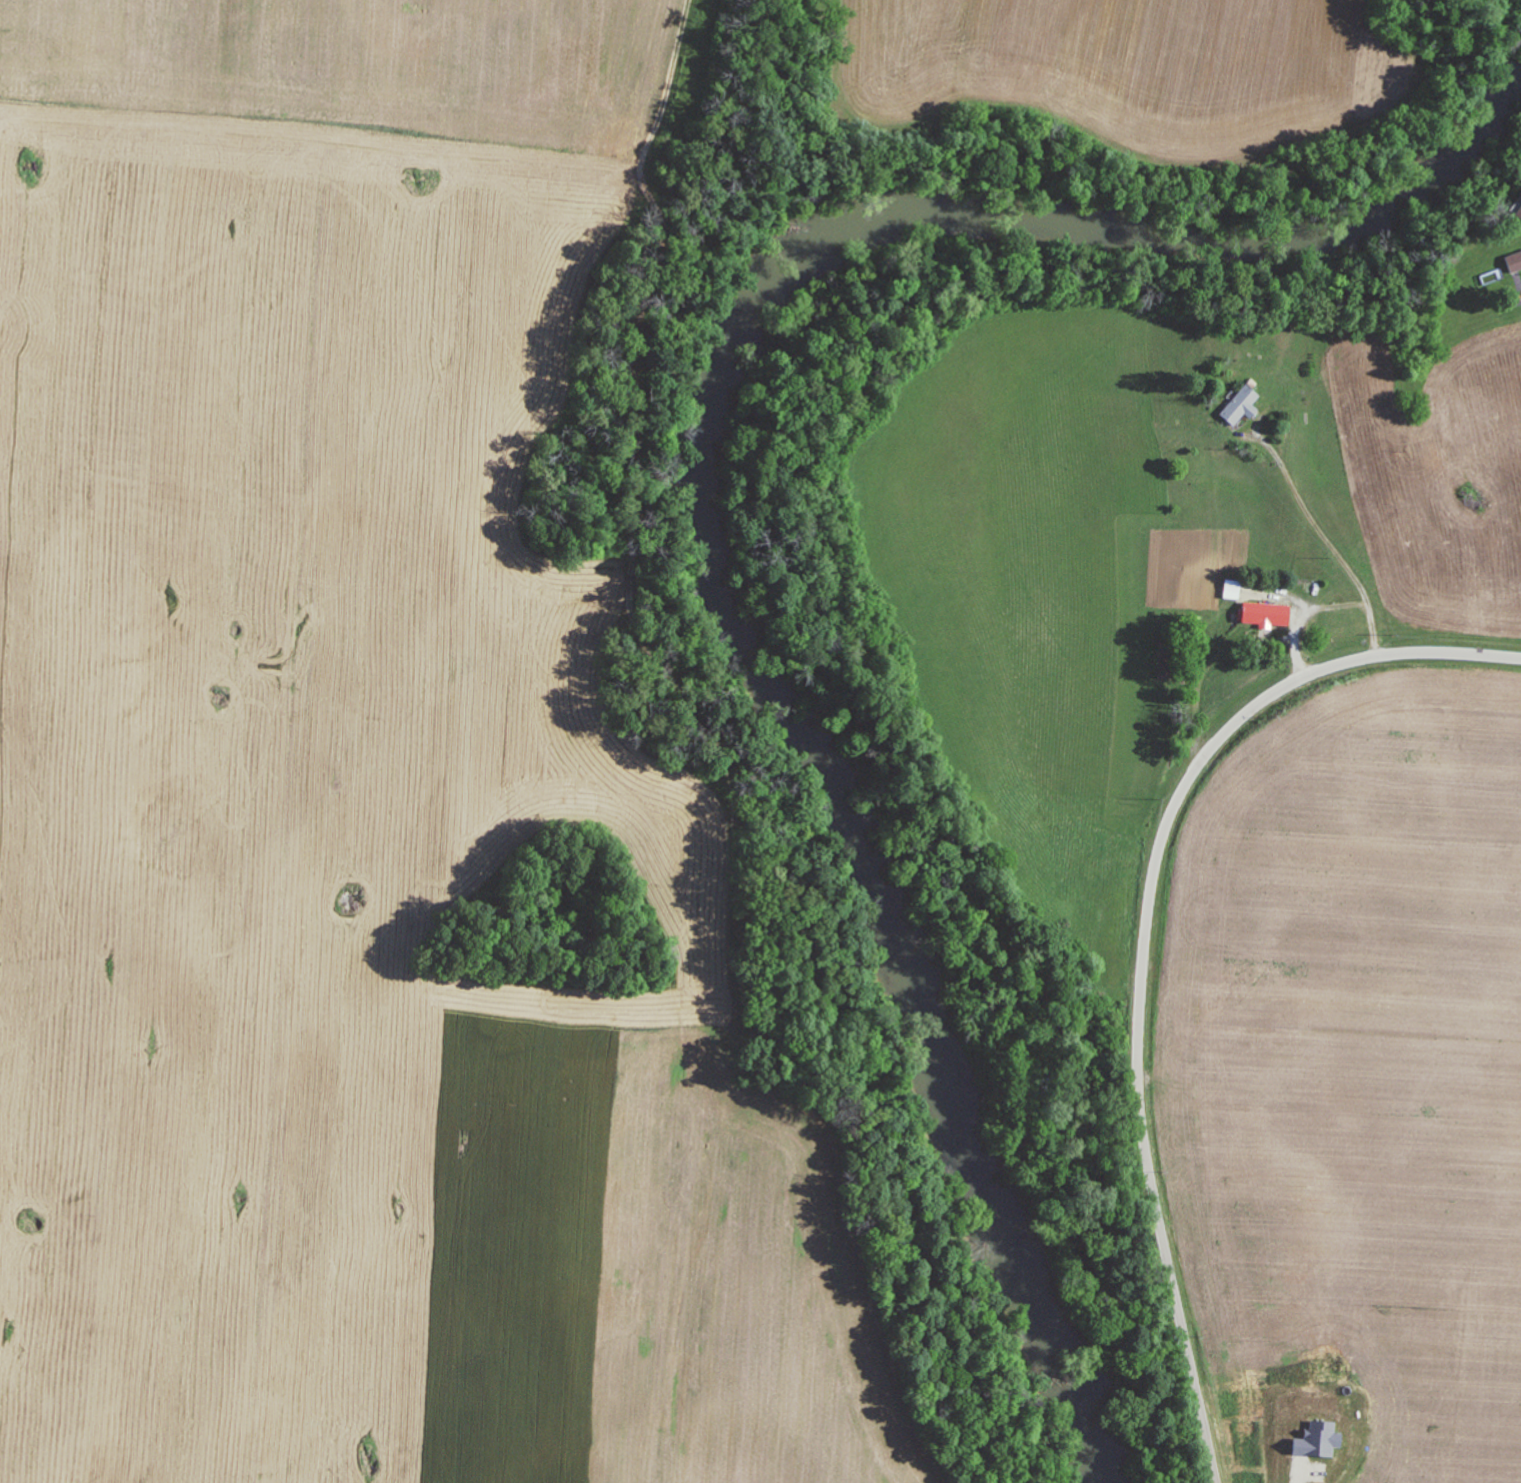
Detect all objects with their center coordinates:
building: (1513, 262)
building: (1239, 406)
river: (721, 486)
road: (1314, 525)
building: (1231, 588)
road: (1327, 609)
building: (1264, 614)
road: (1145, 944)

